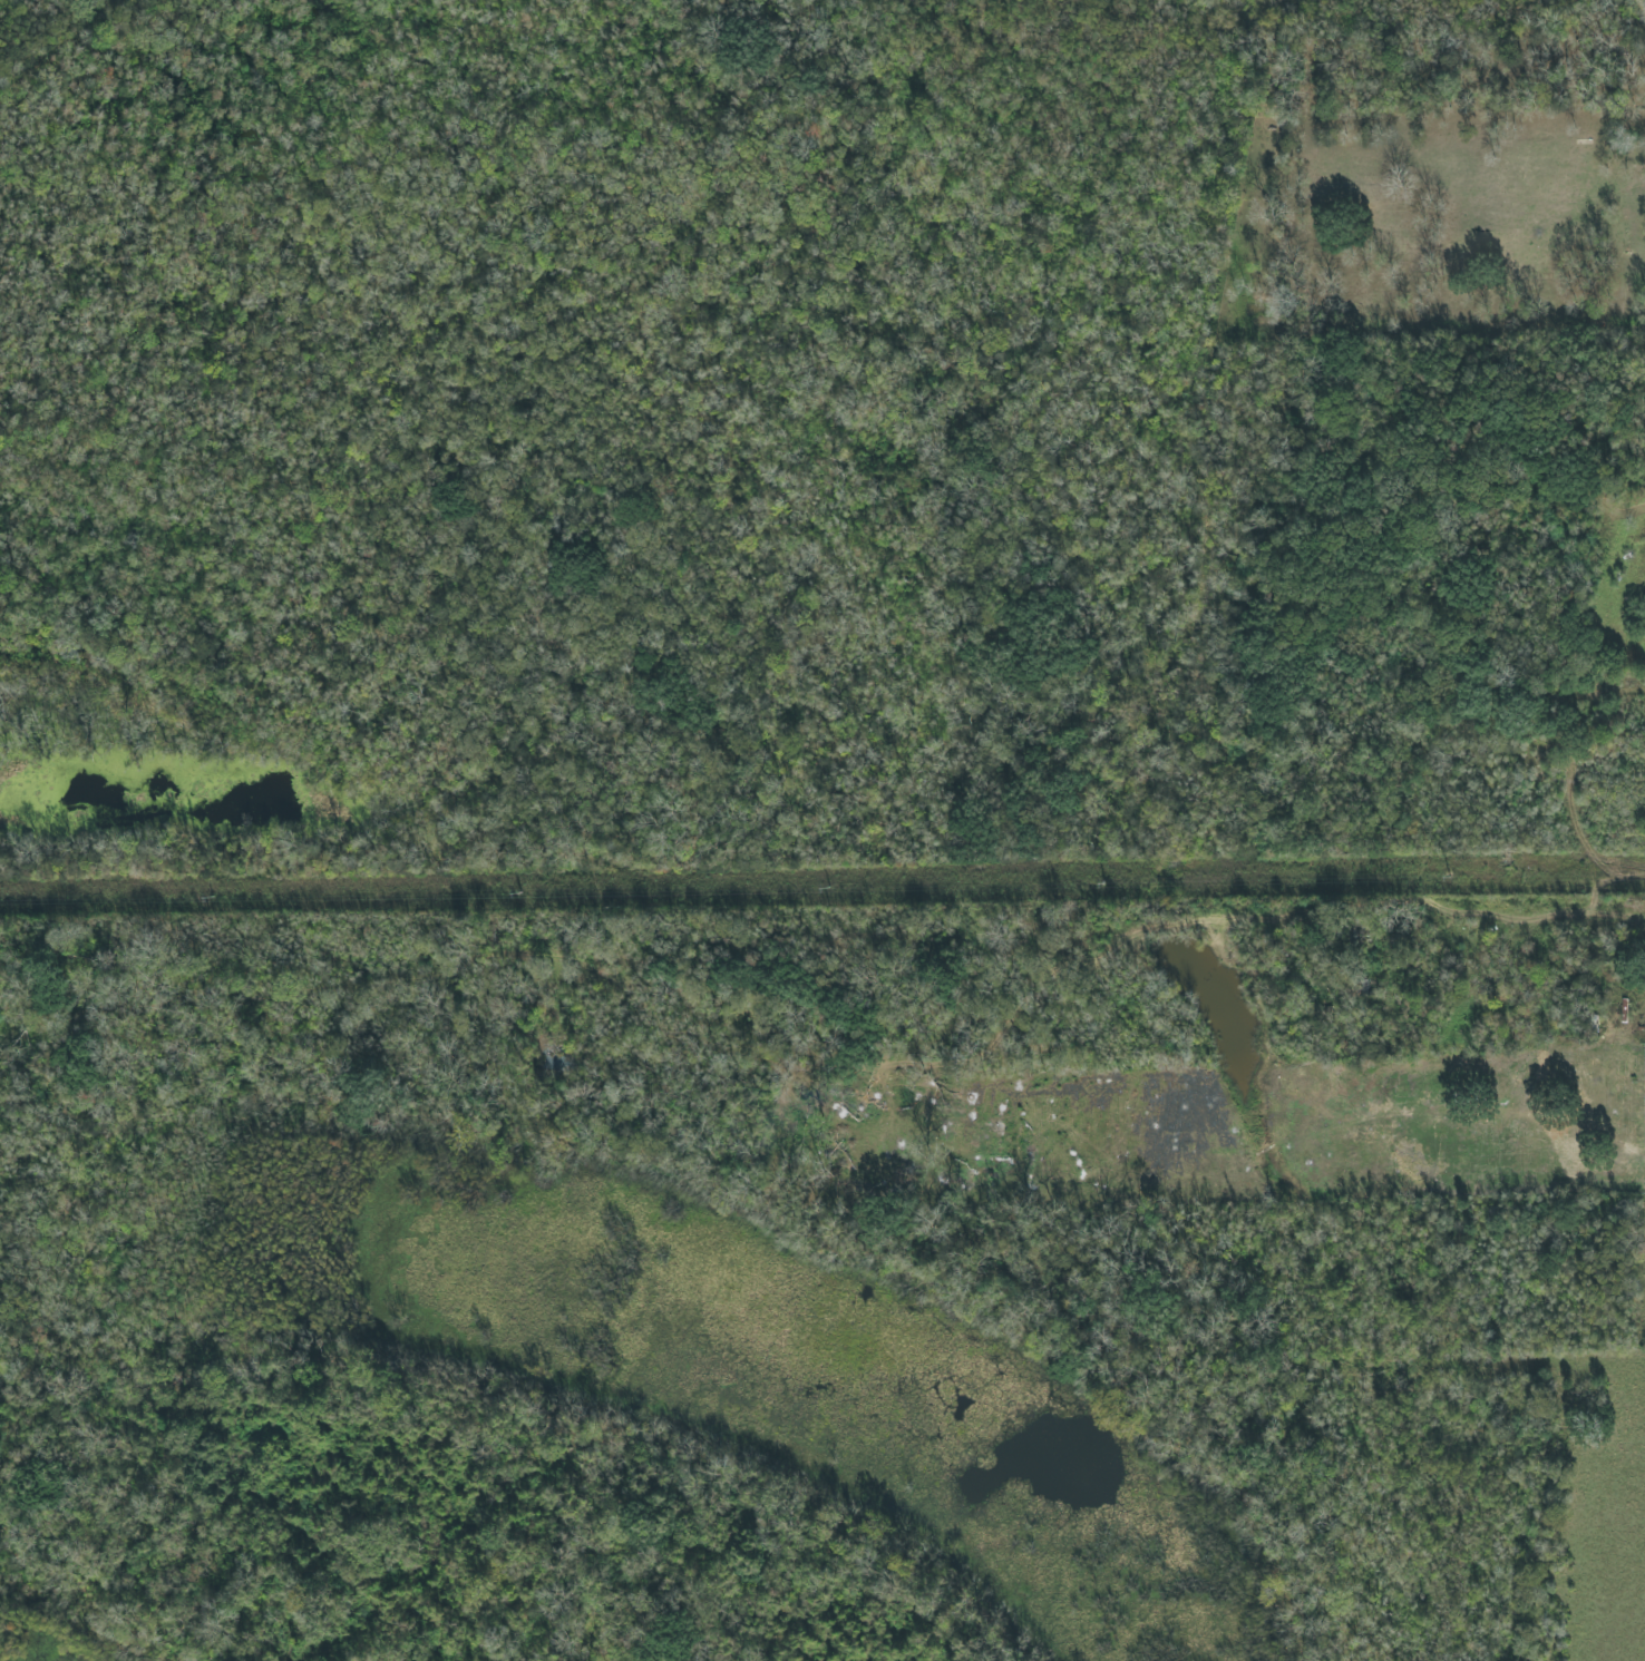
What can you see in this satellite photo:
road: (1459, 897)

